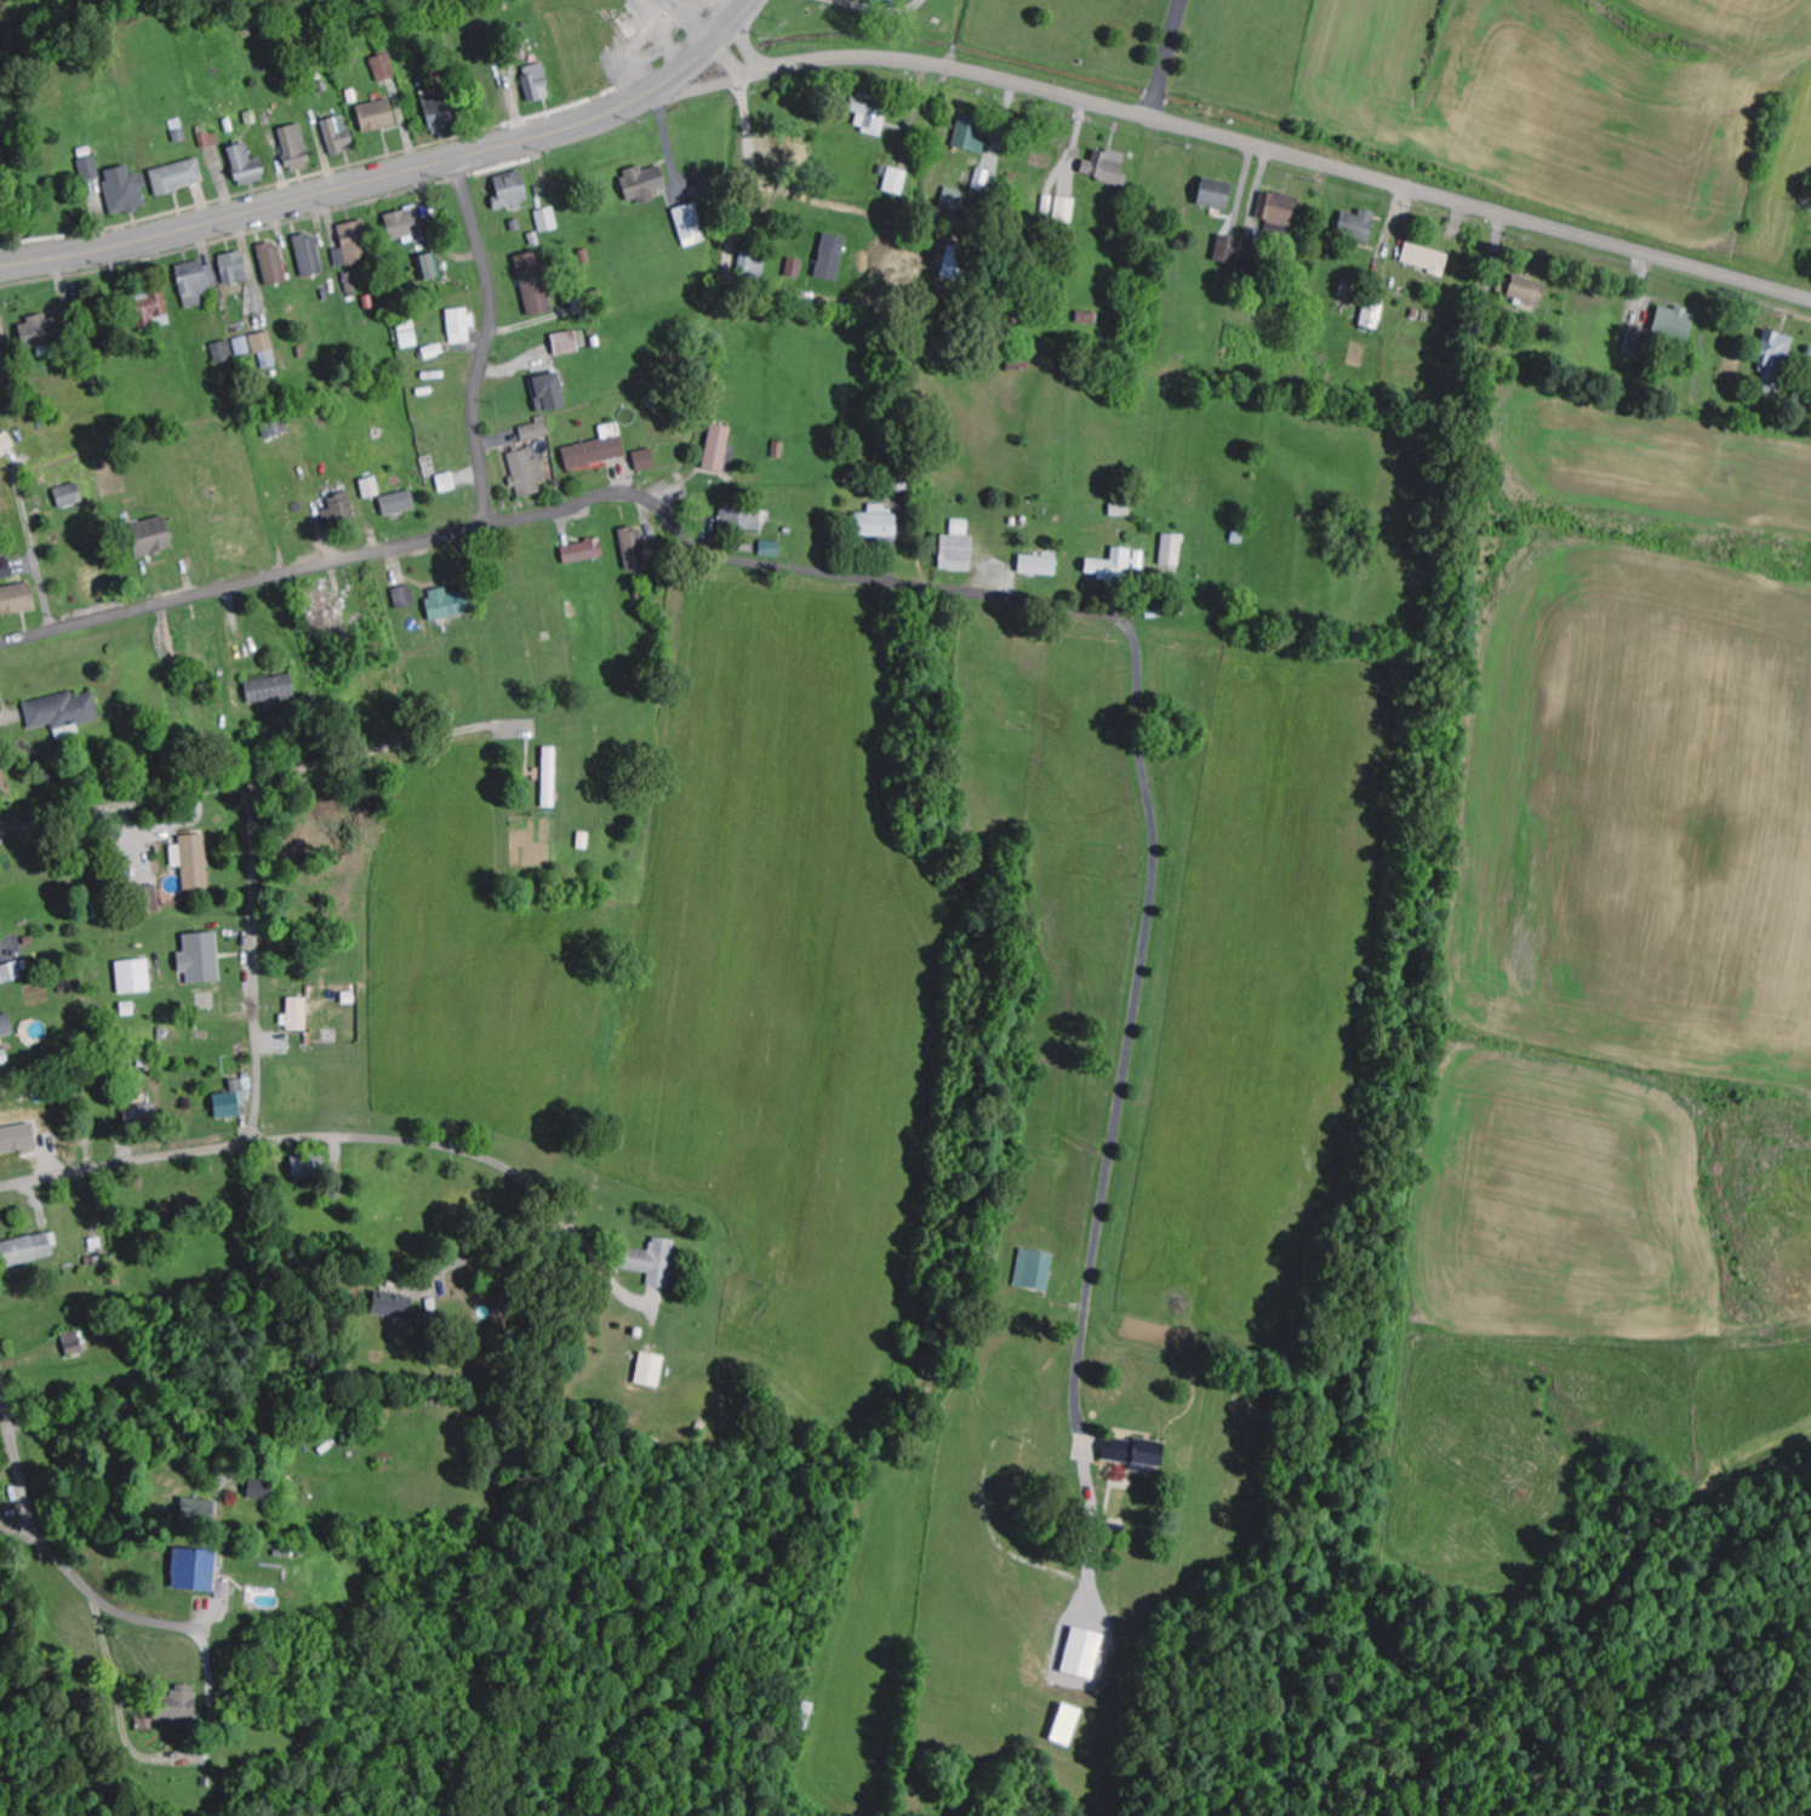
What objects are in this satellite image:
building: (892, 0)
road: (684, 22)
road: (733, 22)
road: (1172, 59)
building: (384, 69)
building: (537, 84)
building: (440, 112)
building: (870, 113)
building: (378, 116)
building: (338, 136)
building: (972, 137)
building: (211, 141)
road: (1258, 148)
building: (296, 149)
building: (247, 167)
building: (1107, 167)
building: (90, 170)
building: (178, 178)
building: (897, 182)
road: (366, 183)
building: (645, 184)
building: (126, 192)
building: (512, 193)
building: (1217, 195)
building: (954, 202)
building: (1067, 210)
building: (1279, 211)
building: (406, 224)
building: (692, 225)
building: (1359, 227)
building: (353, 245)
building: (1239, 252)
building: (310, 257)
building: (832, 258)
building: (753, 264)
building: (1429, 264)
building: (274, 265)
building: (956, 265)
building: (795, 268)
building: (234, 269)
building: (429, 269)
building: (198, 284)
building: (536, 285)
building: (1532, 298)
building: (150, 309)
building: (1373, 315)
building: (1676, 324)
building: (461, 326)
building: (48, 331)
building: (407, 331)
road: (486, 343)
building: (567, 344)
building: (244, 347)
building: (1638, 347)
building: (265, 350)
building: (224, 353)
building: (2, 359)
building: (1776, 361)
building: (549, 393)
building: (276, 428)
building: (537, 430)
building: (6, 444)
building: (719, 447)
building: (598, 449)
building: (646, 459)
building: (527, 472)
building: (371, 487)
building: (70, 495)
building: (399, 503)
road: (567, 508)
building: (745, 518)
building: (880, 522)
building: (961, 527)
building: (152, 536)
building: (634, 548)
building: (1172, 549)
building: (584, 552)
road: (33, 553)
building: (959, 553)
building: (1112, 565)
building: (405, 596)
building: (18, 599)
building: (449, 604)
building: (325, 605)
building: (272, 689)
building: (62, 710)
building: (550, 777)
road: (252, 846)
building: (193, 861)
road: (439, 863)
building: (150, 898)
building: (201, 958)
building: (135, 977)
building: (297, 1015)
building: (6, 1026)
building: (232, 1102)
building: (142, 1113)
road: (421, 1146)
road: (125, 1165)
building: (309, 1166)
building: (29, 1249)
building: (653, 1262)
building: (1035, 1269)
building: (394, 1304)
building: (75, 1343)
building: (651, 1370)
building: (1136, 1454)
road: (19, 1480)
building: (261, 1490)
building: (199, 1513)
building: (199, 1574)
road: (95, 1600)
road: (50, 1604)
building: (1084, 1654)
building: (178, 1708)
building: (1068, 1725)

